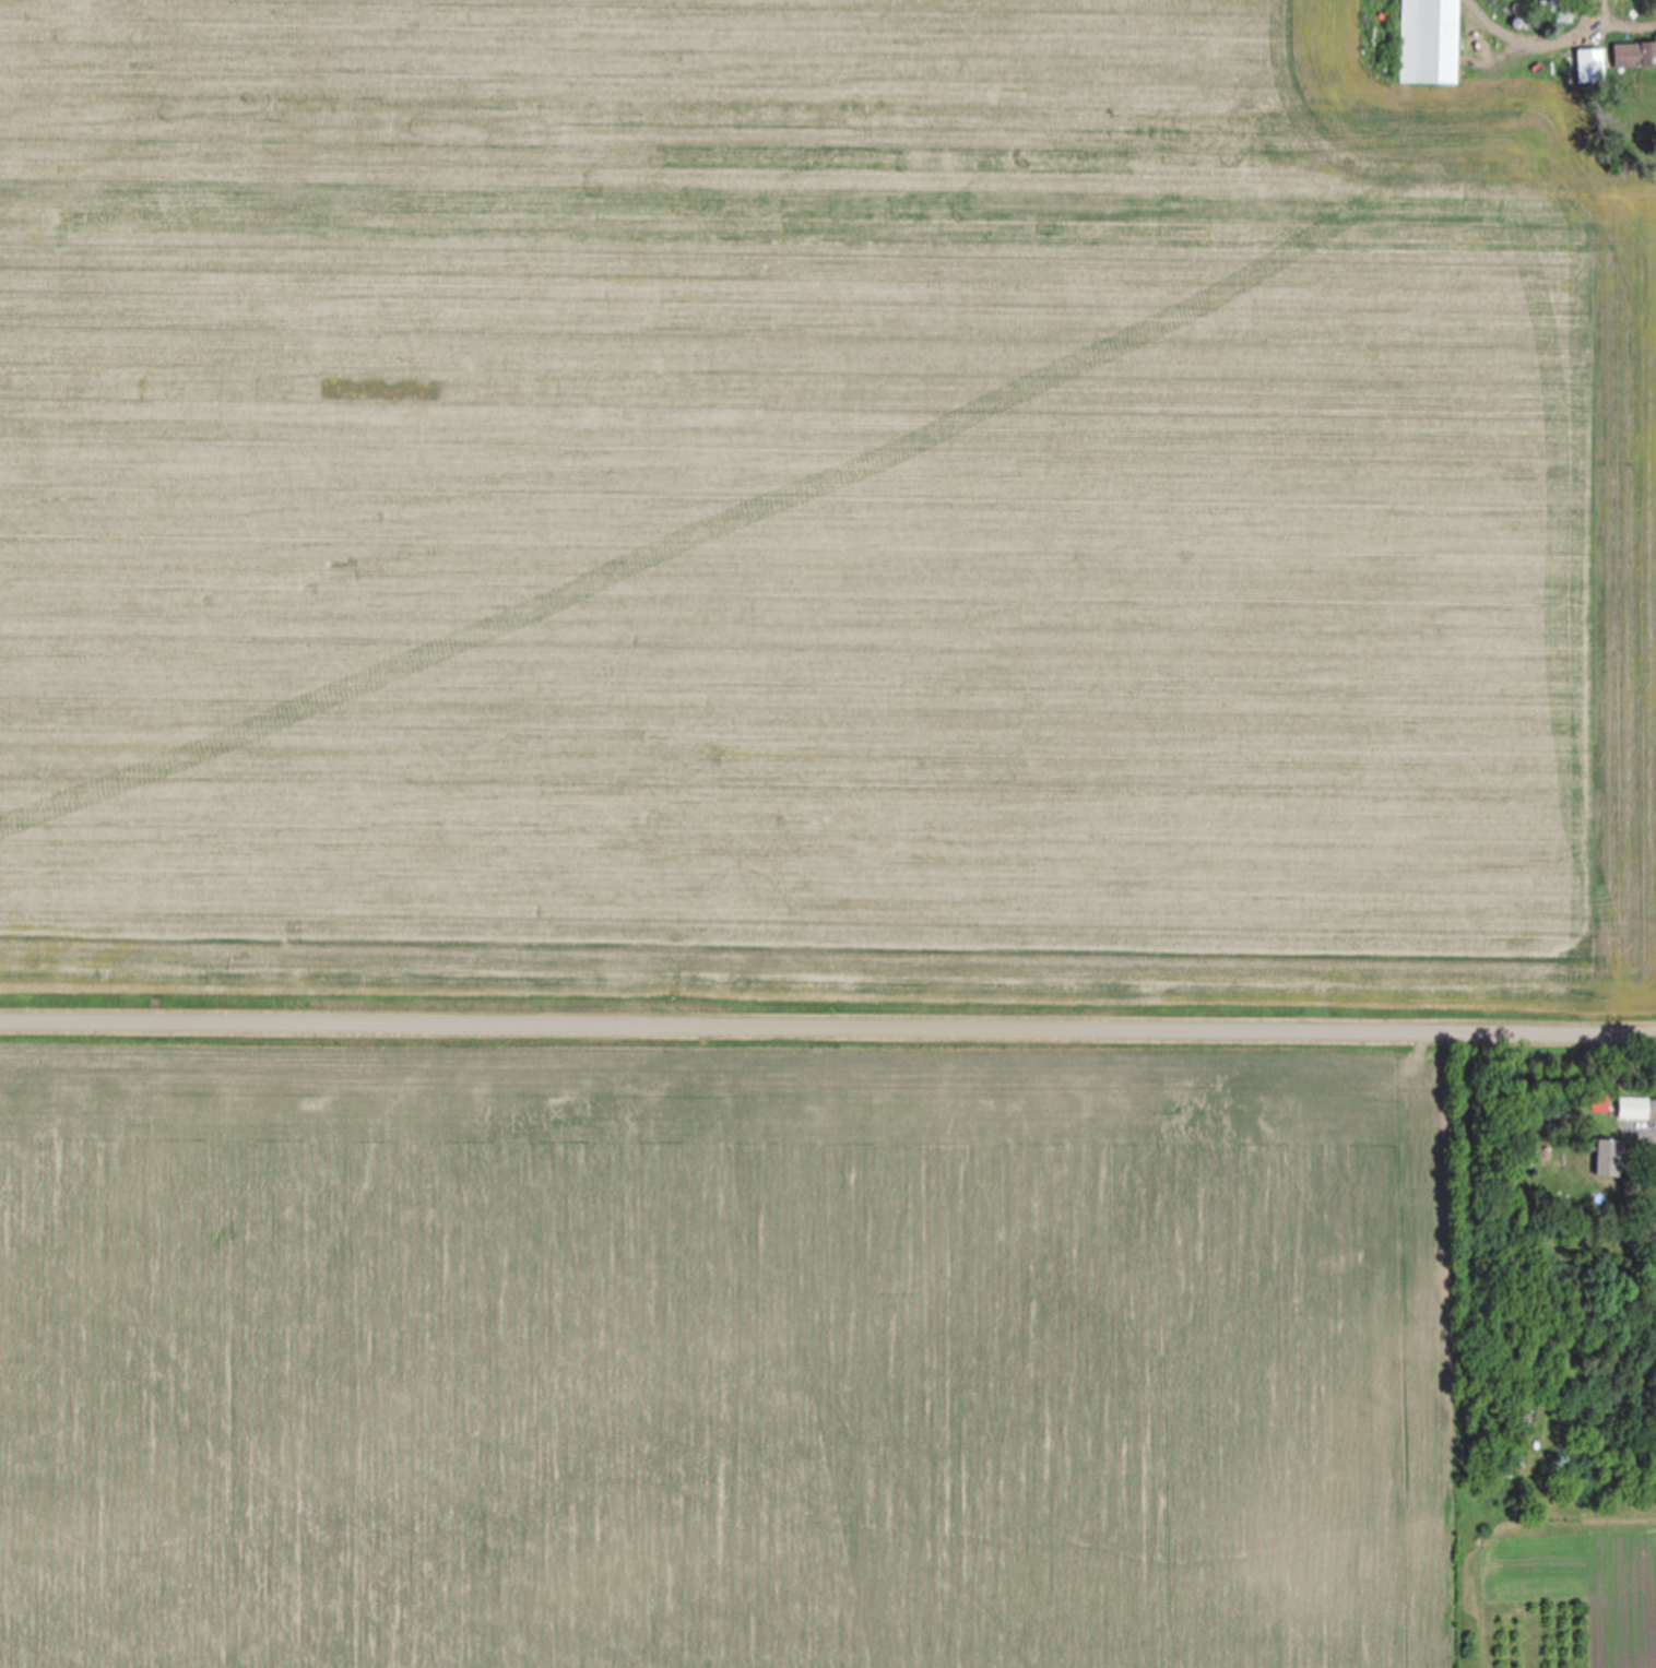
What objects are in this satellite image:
building: (1558, 10)
building: (1427, 40)
building: (1633, 52)
building: (1588, 62)
crop: (811, 516)
road: (827, 1021)
building: (1632, 1107)
building: (1606, 1157)
crop: (723, 1349)

